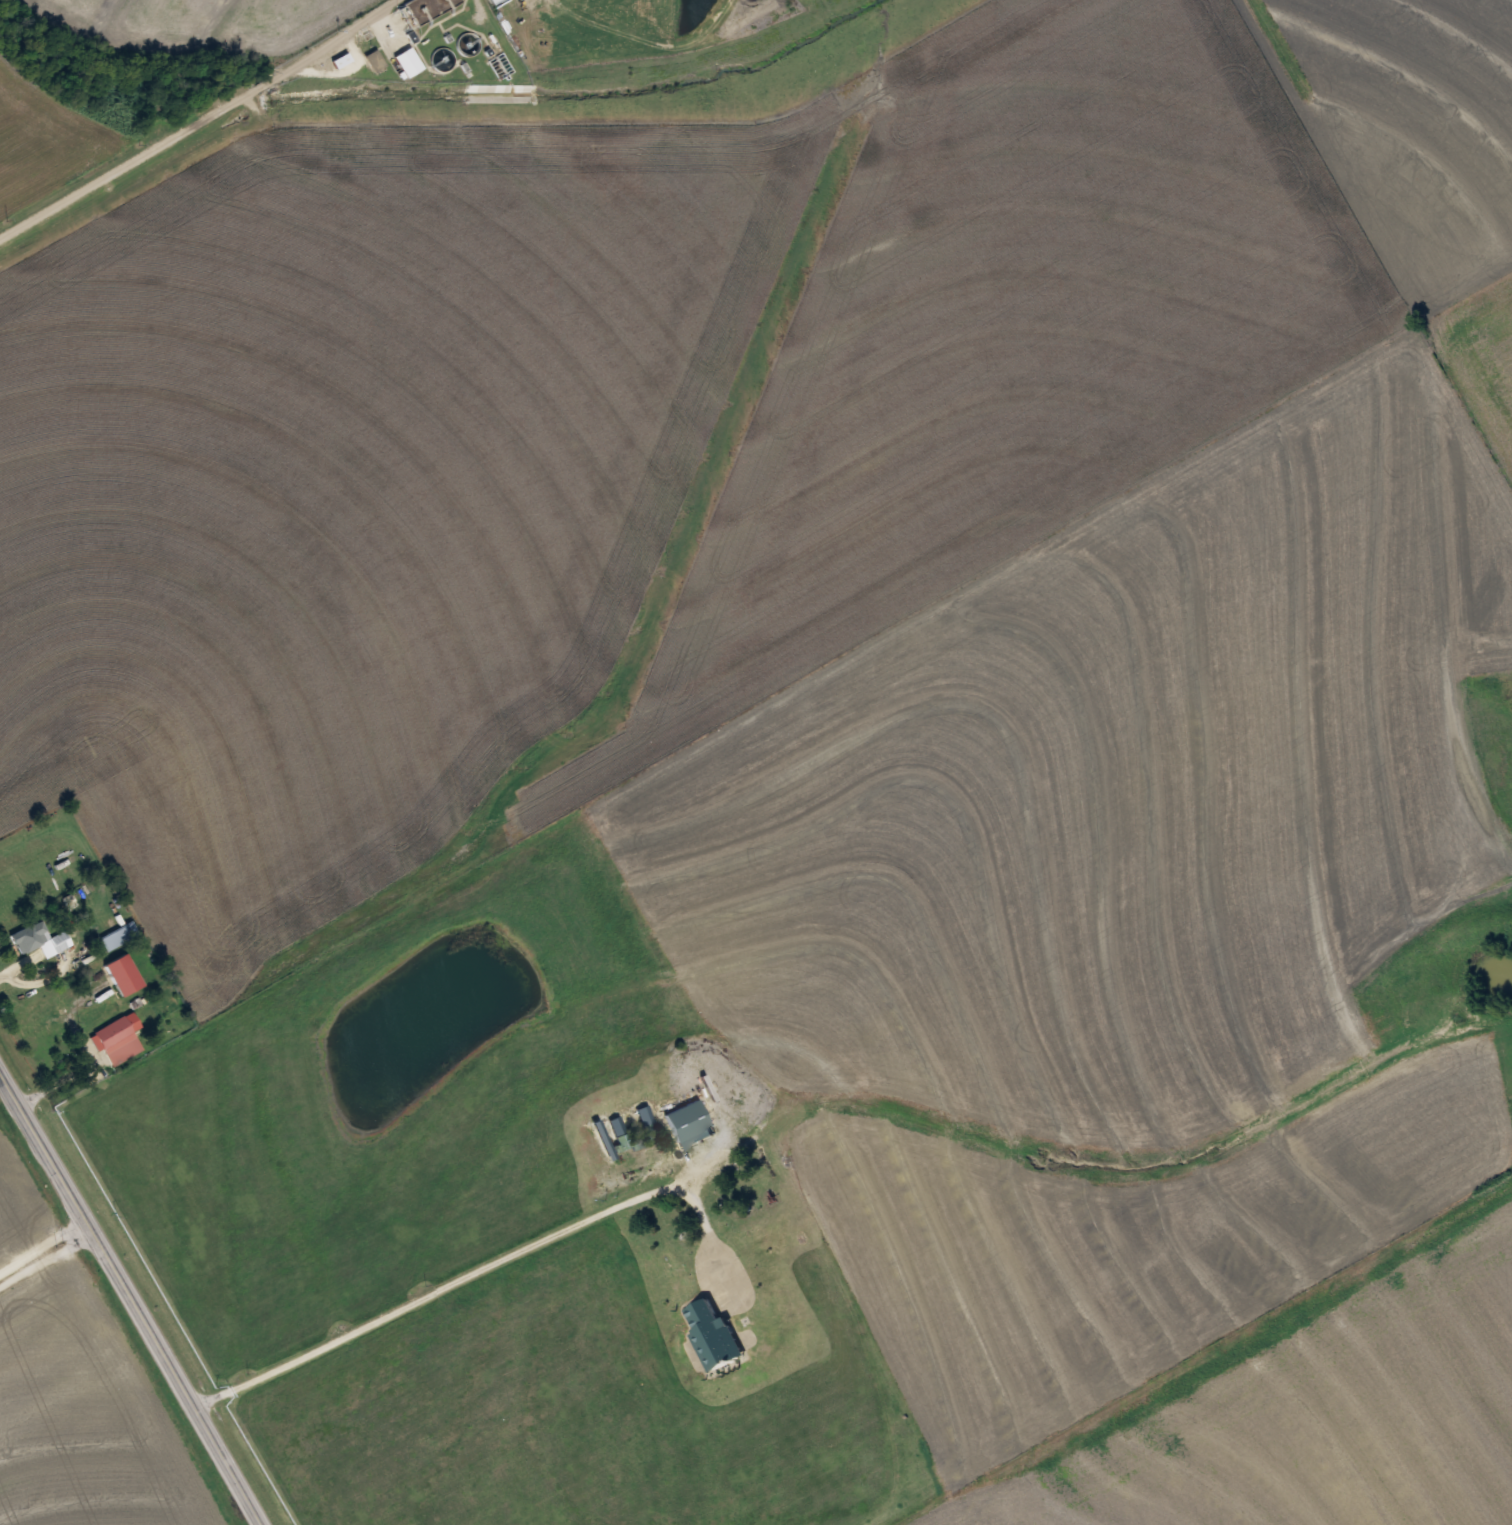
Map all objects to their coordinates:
crop: (210, 21)
road: (502, 34)
wastewater plant: (554, 41)
building: (375, 59)
building: (407, 61)
road: (199, 119)
crop: (50, 141)
crop: (1482, 353)
crop: (653, 412)
crop: (1120, 796)
building: (117, 935)
building: (39, 939)
building: (120, 973)
building: (116, 1038)
building: (688, 1124)
crop: (21, 1202)
crop: (1116, 1241)
road: (43, 1248)
road: (47, 1261)
road: (130, 1297)
building: (712, 1334)
crop: (1310, 1412)
crop: (88, 1417)

